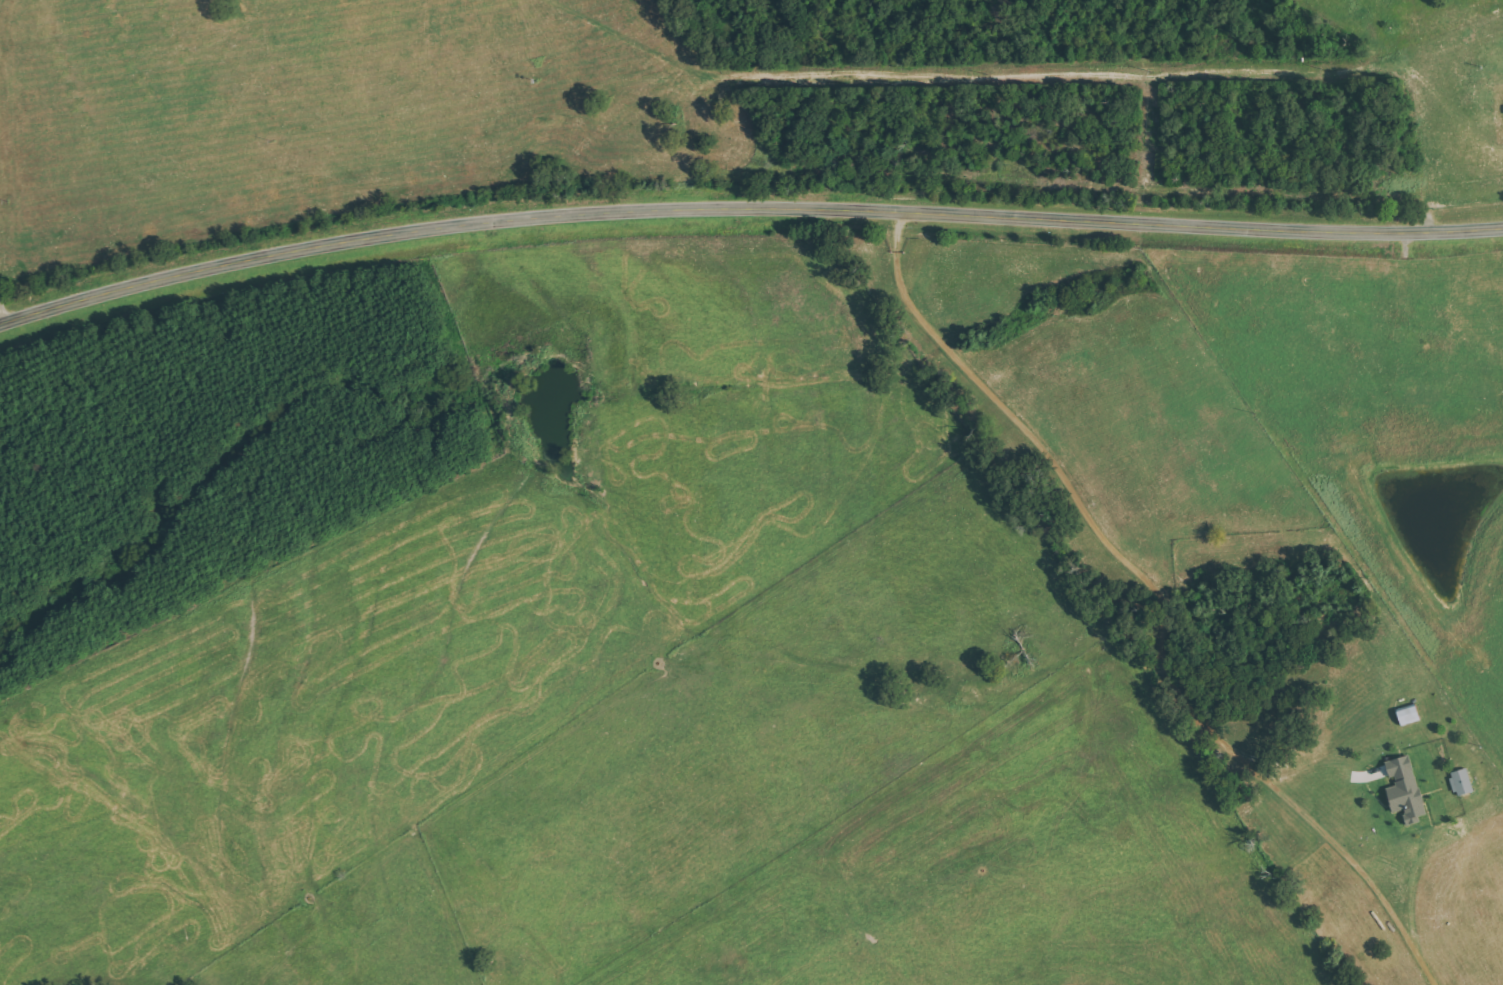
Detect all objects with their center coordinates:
road: (745, 202)
building: (1410, 714)
building: (1462, 781)
building: (1407, 789)

